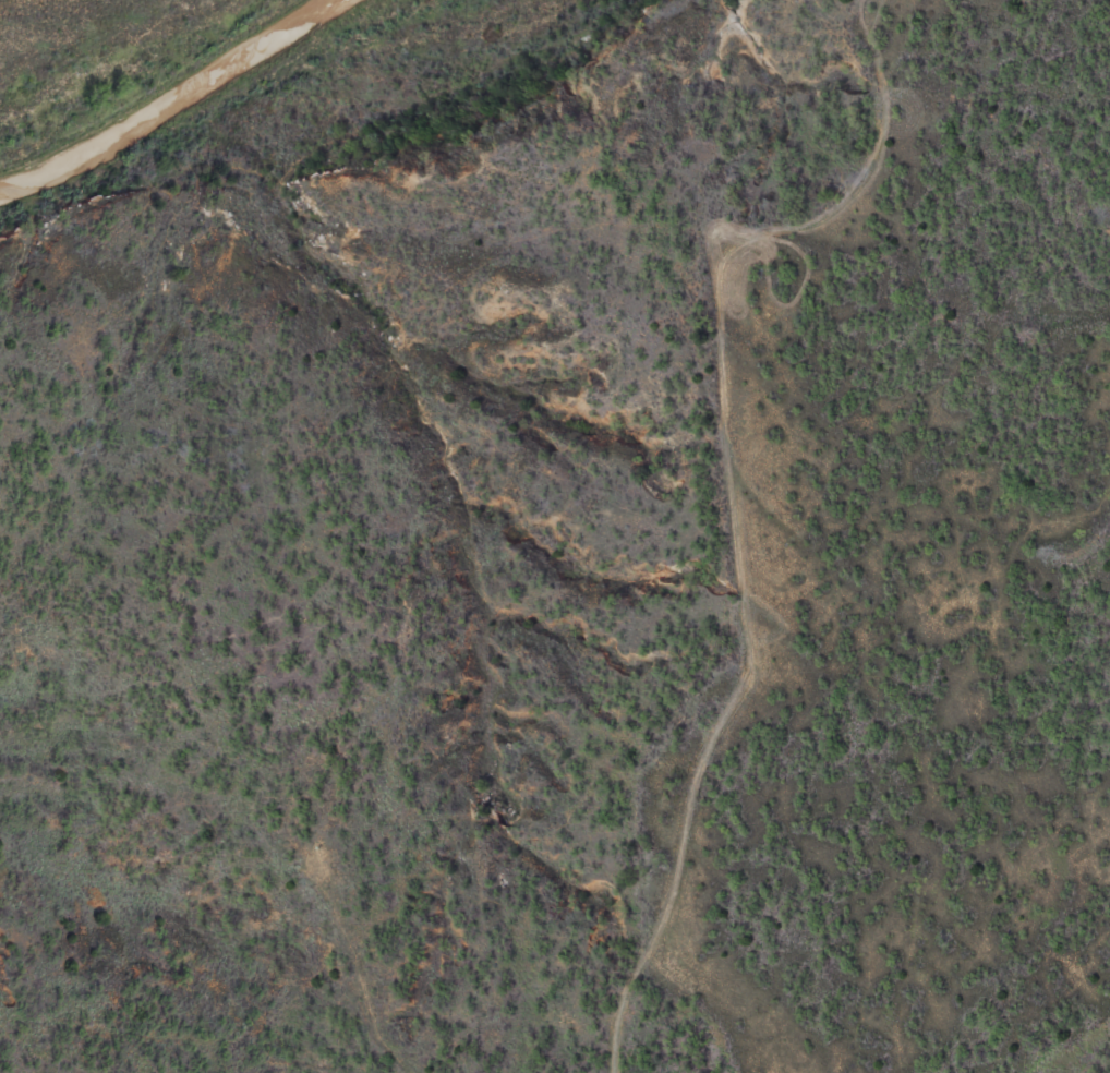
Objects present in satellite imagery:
road: (774, 231)
road: (710, 793)

